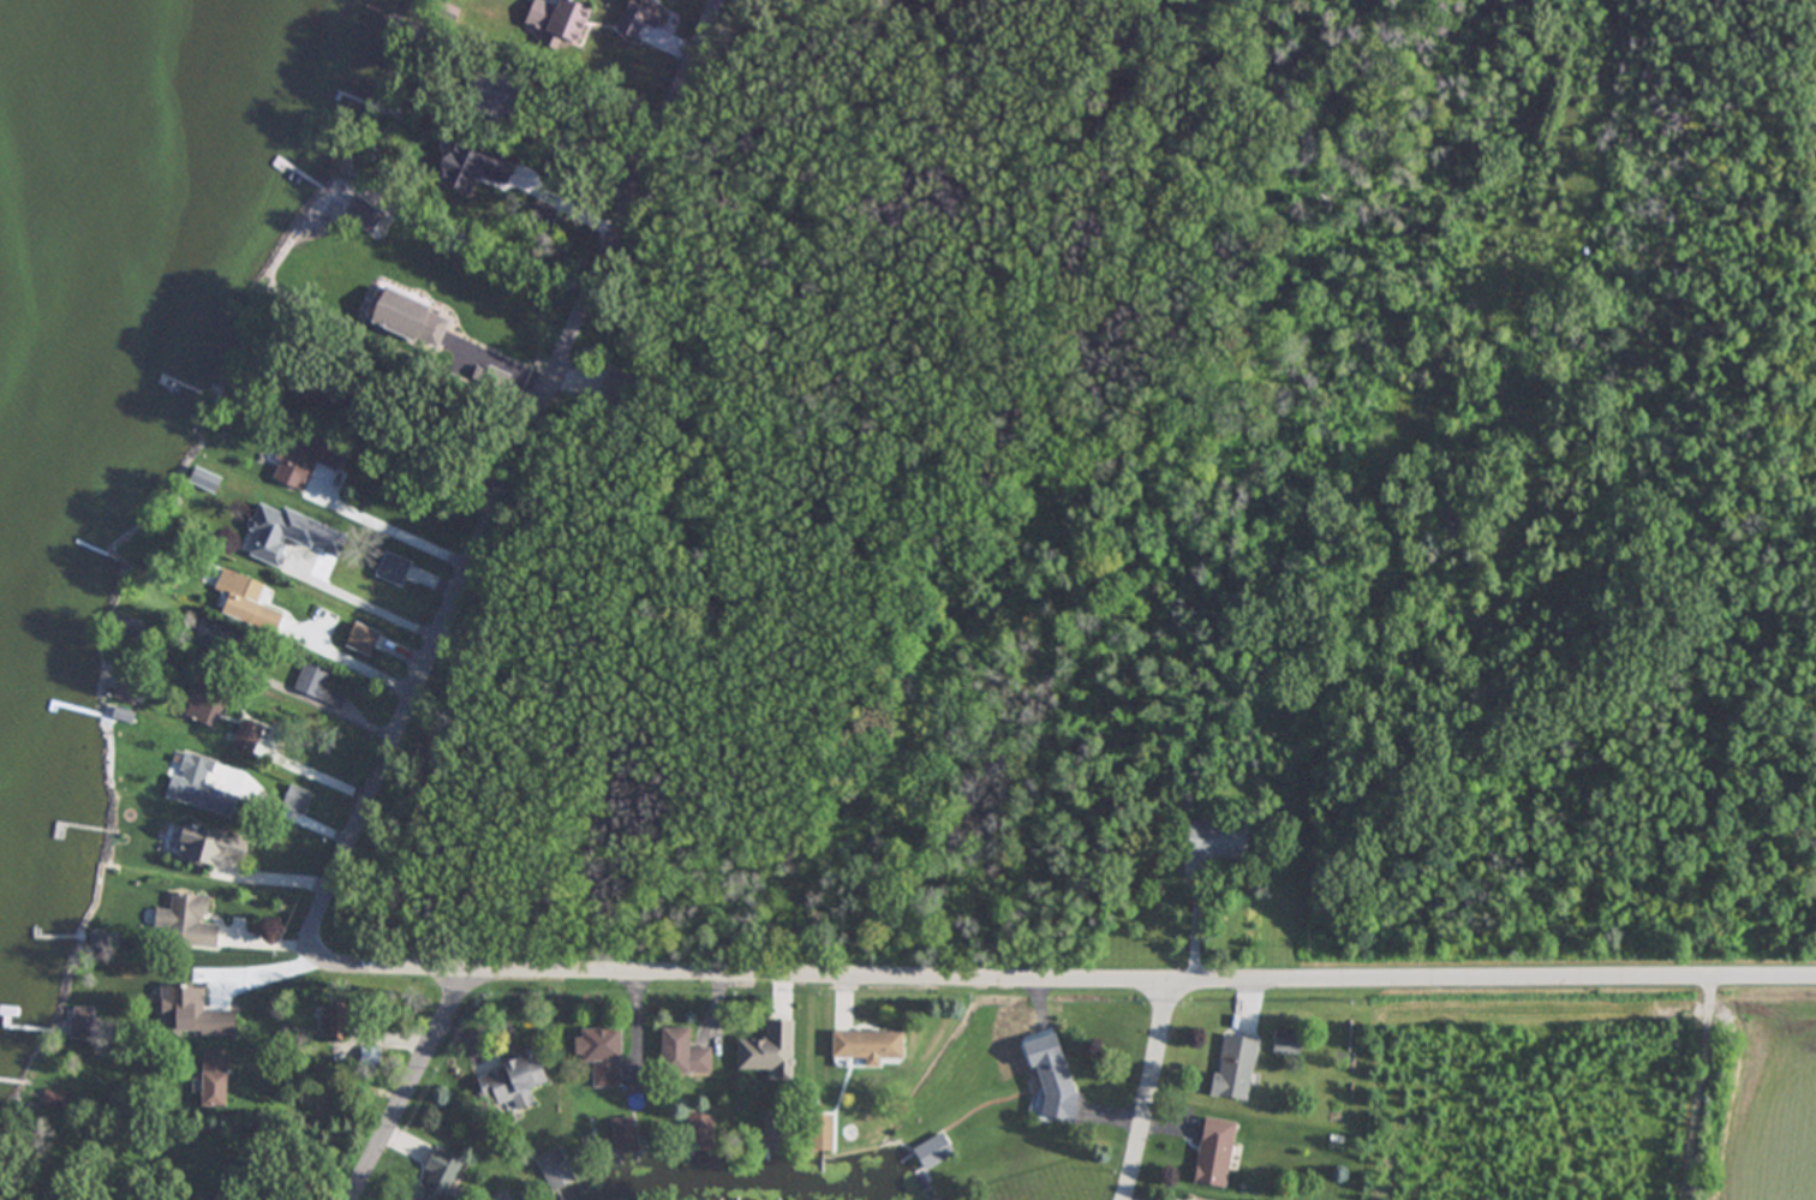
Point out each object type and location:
building: (635, 19)
building: (554, 20)
building: (394, 115)
road: (563, 209)
building: (402, 321)
road: (498, 366)
building: (301, 460)
building: (201, 483)
road: (402, 533)
building: (279, 535)
road: (478, 568)
building: (234, 598)
road: (365, 604)
road: (352, 659)
building: (312, 688)
building: (197, 706)
building: (192, 788)
building: (292, 801)
road: (285, 814)
building: (1213, 842)
building: (198, 848)
building: (181, 923)
road: (1020, 984)
building: (187, 1013)
building: (1285, 1041)
building: (865, 1049)
building: (765, 1051)
building: (680, 1055)
building: (598, 1056)
building: (1231, 1067)
building: (209, 1079)
building: (508, 1079)
building: (1052, 1088)
road: (1151, 1092)
building: (54, 1100)
building: (692, 1132)
building: (819, 1134)
building: (623, 1136)
building: (773, 1136)
building: (932, 1153)
building: (1211, 1153)
building: (555, 1169)
building: (435, 1177)
building: (500, 1196)

